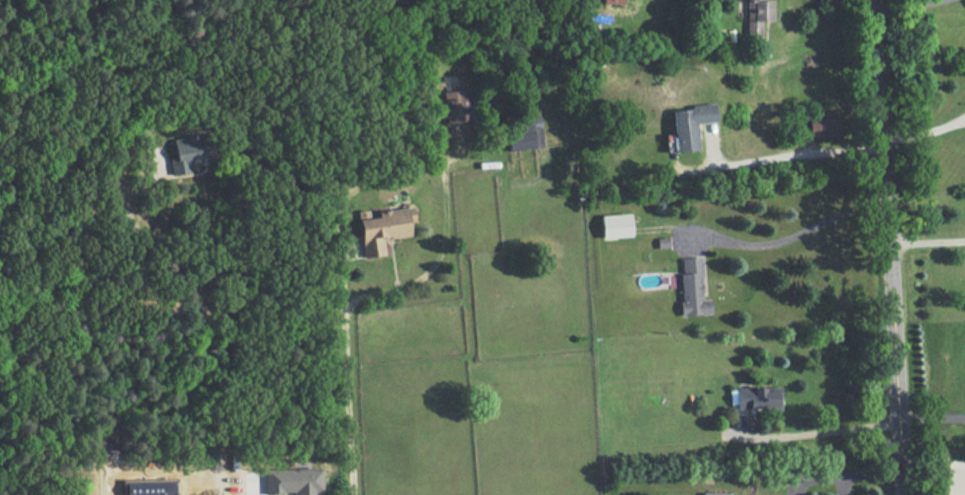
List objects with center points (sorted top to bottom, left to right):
building: (612, 1)
road: (909, 7)
building: (755, 17)
building: (454, 105)
building: (688, 124)
building: (822, 126)
building: (523, 132)
road: (924, 133)
building: (188, 153)
road: (787, 156)
building: (616, 225)
building: (382, 226)
road: (790, 235)
road: (926, 241)
road: (887, 247)
road: (340, 279)
building: (692, 287)
road: (210, 311)
building: (755, 397)
road: (932, 431)
road: (820, 432)
road: (848, 472)
building: (293, 480)
building: (148, 486)
building: (714, 493)

